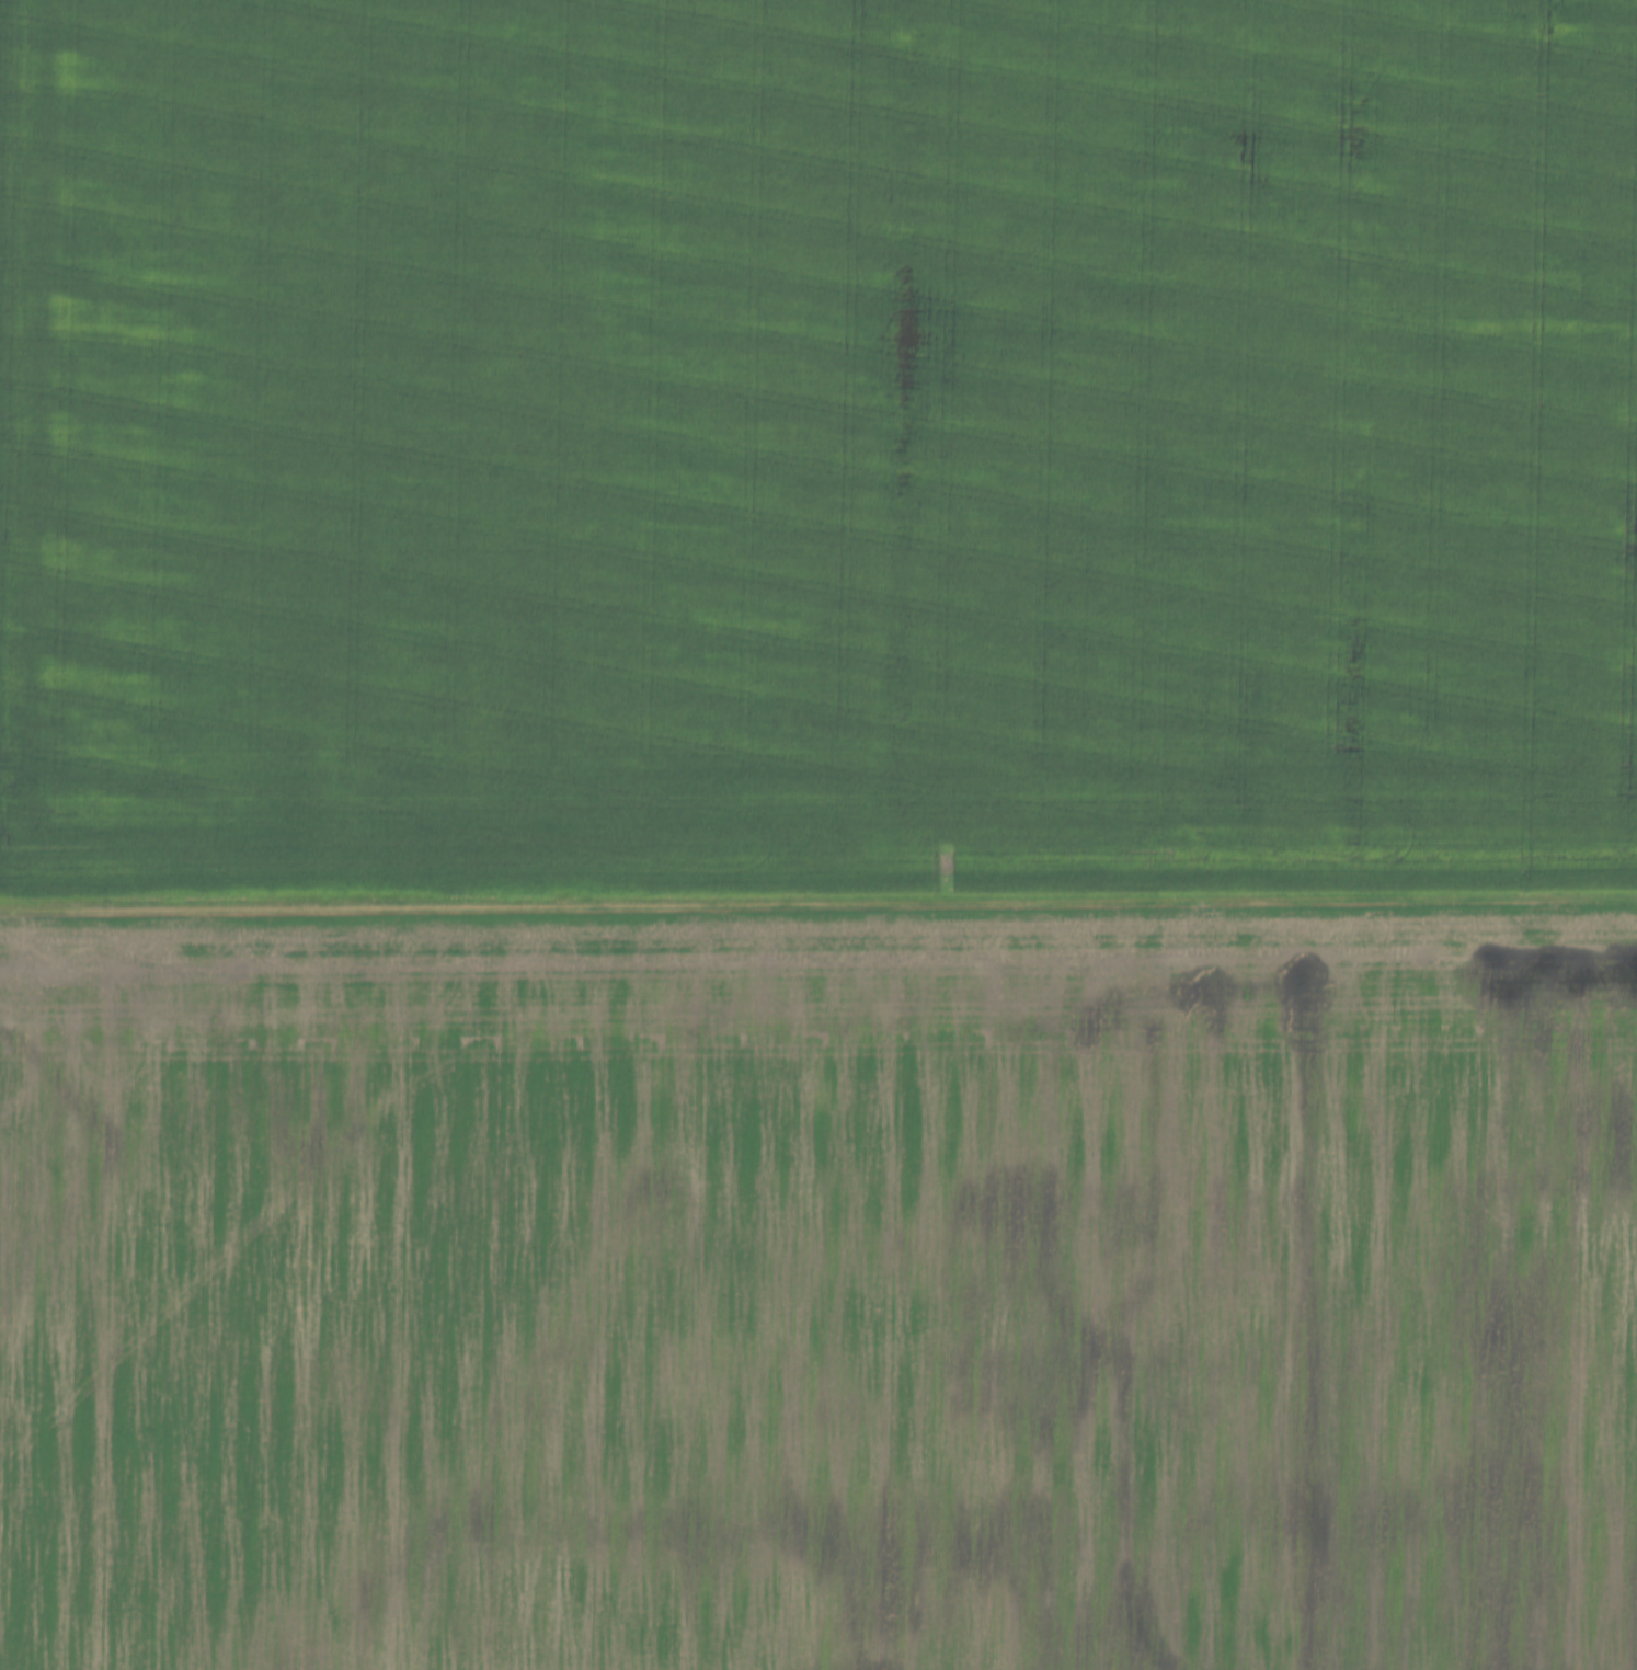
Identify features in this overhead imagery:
crop: (816, 454)
road: (819, 913)
crop: (822, 1294)

